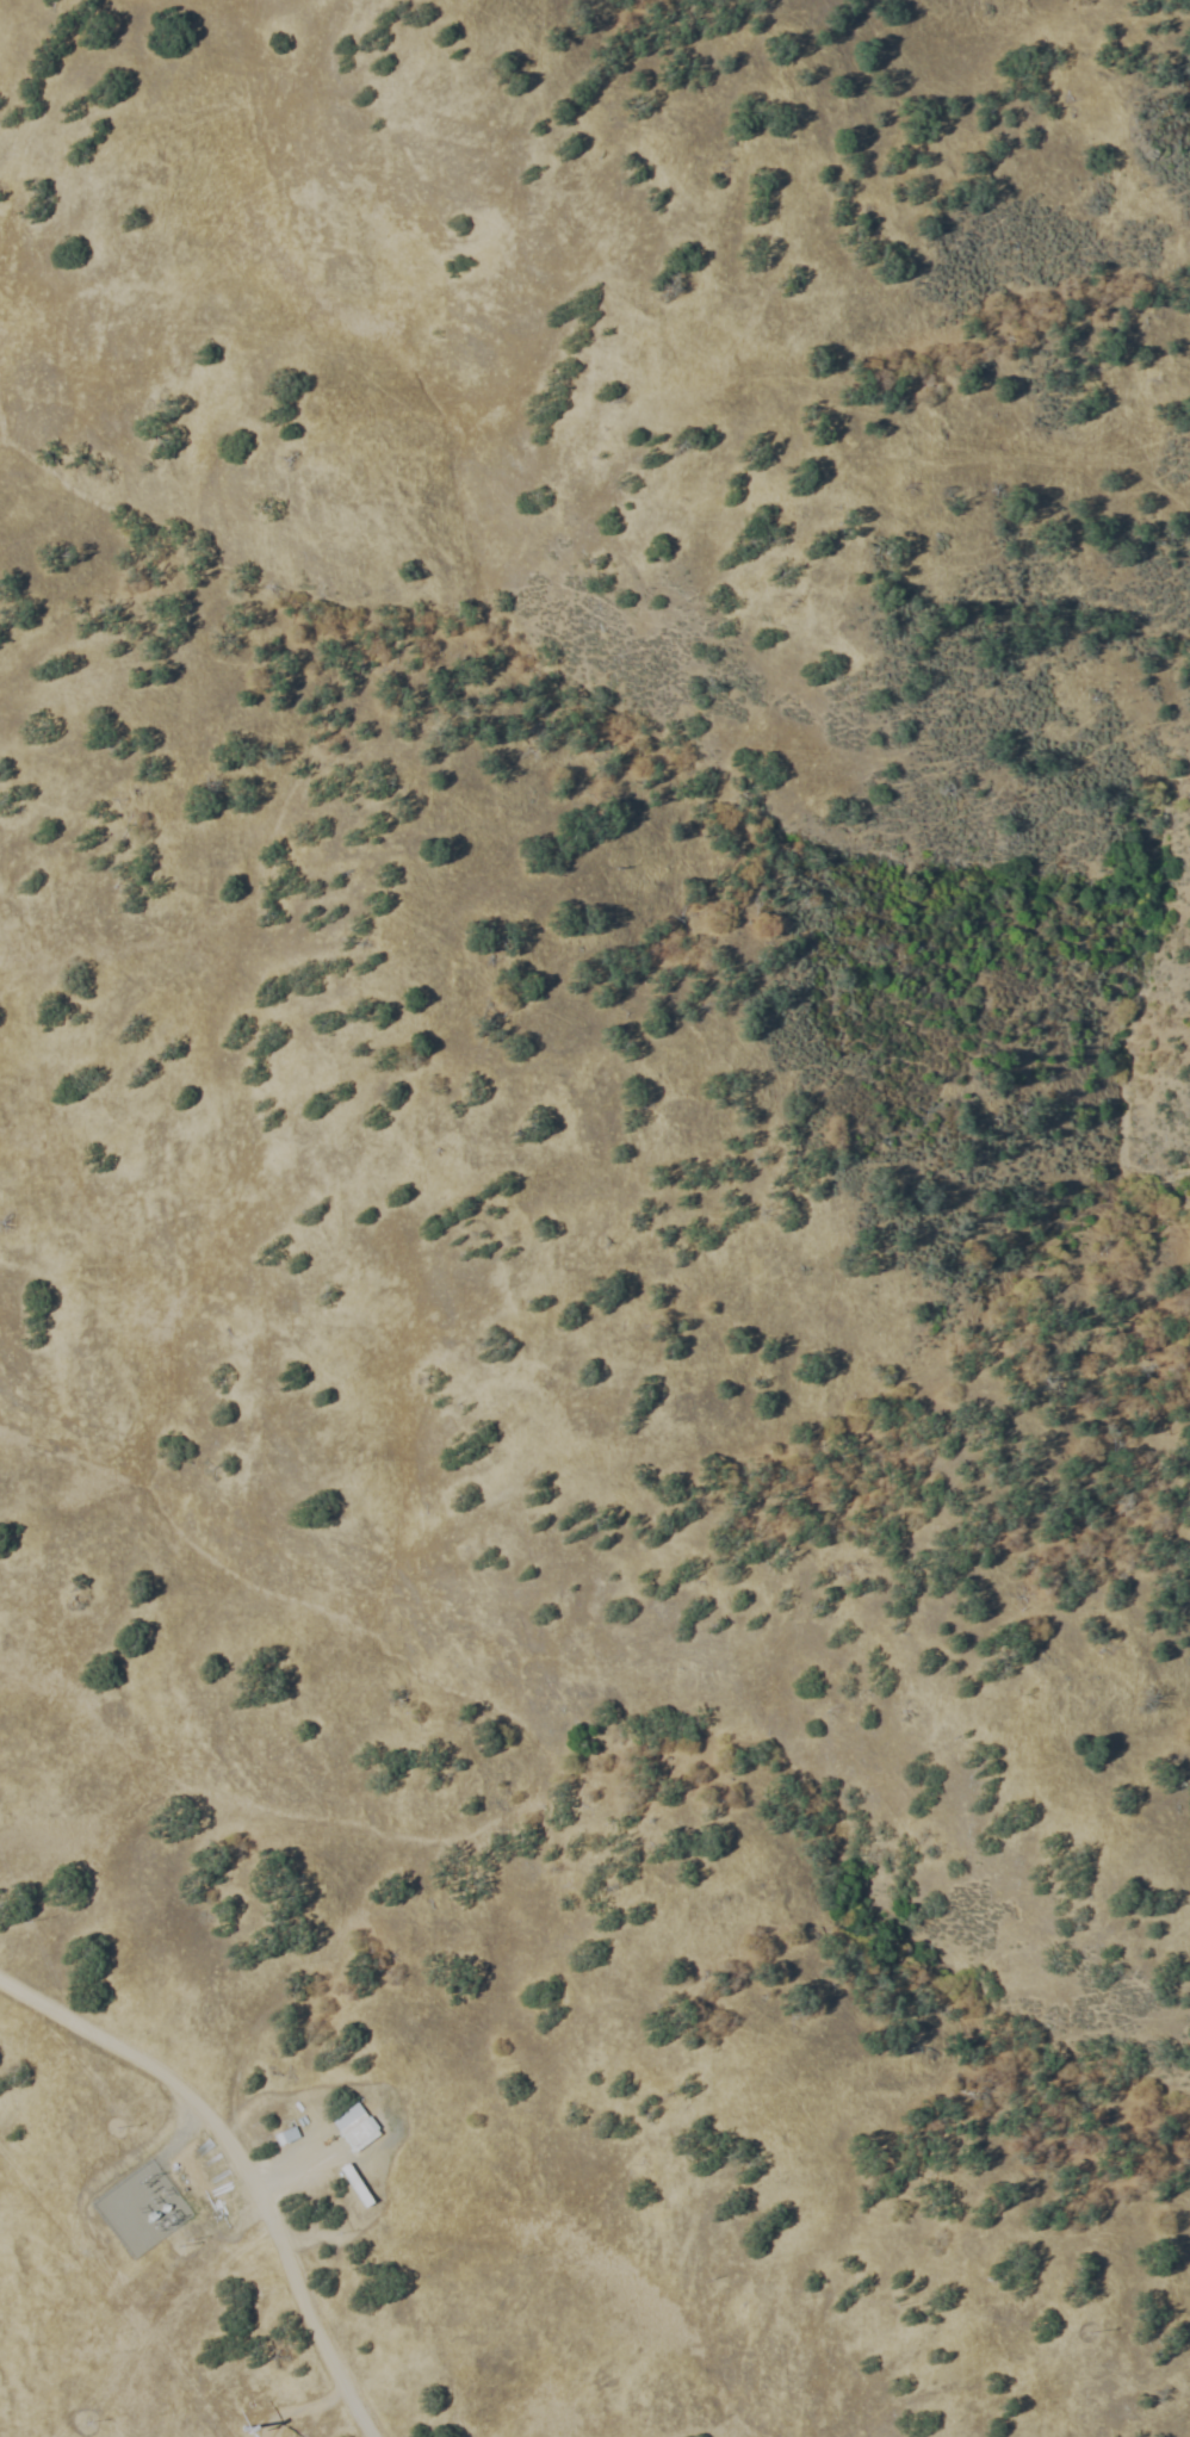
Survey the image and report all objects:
building: (355, 2119)
road: (236, 2164)
building: (360, 2184)
power substation: (140, 2207)
road: (296, 2406)
wind turbine: (246, 2426)

